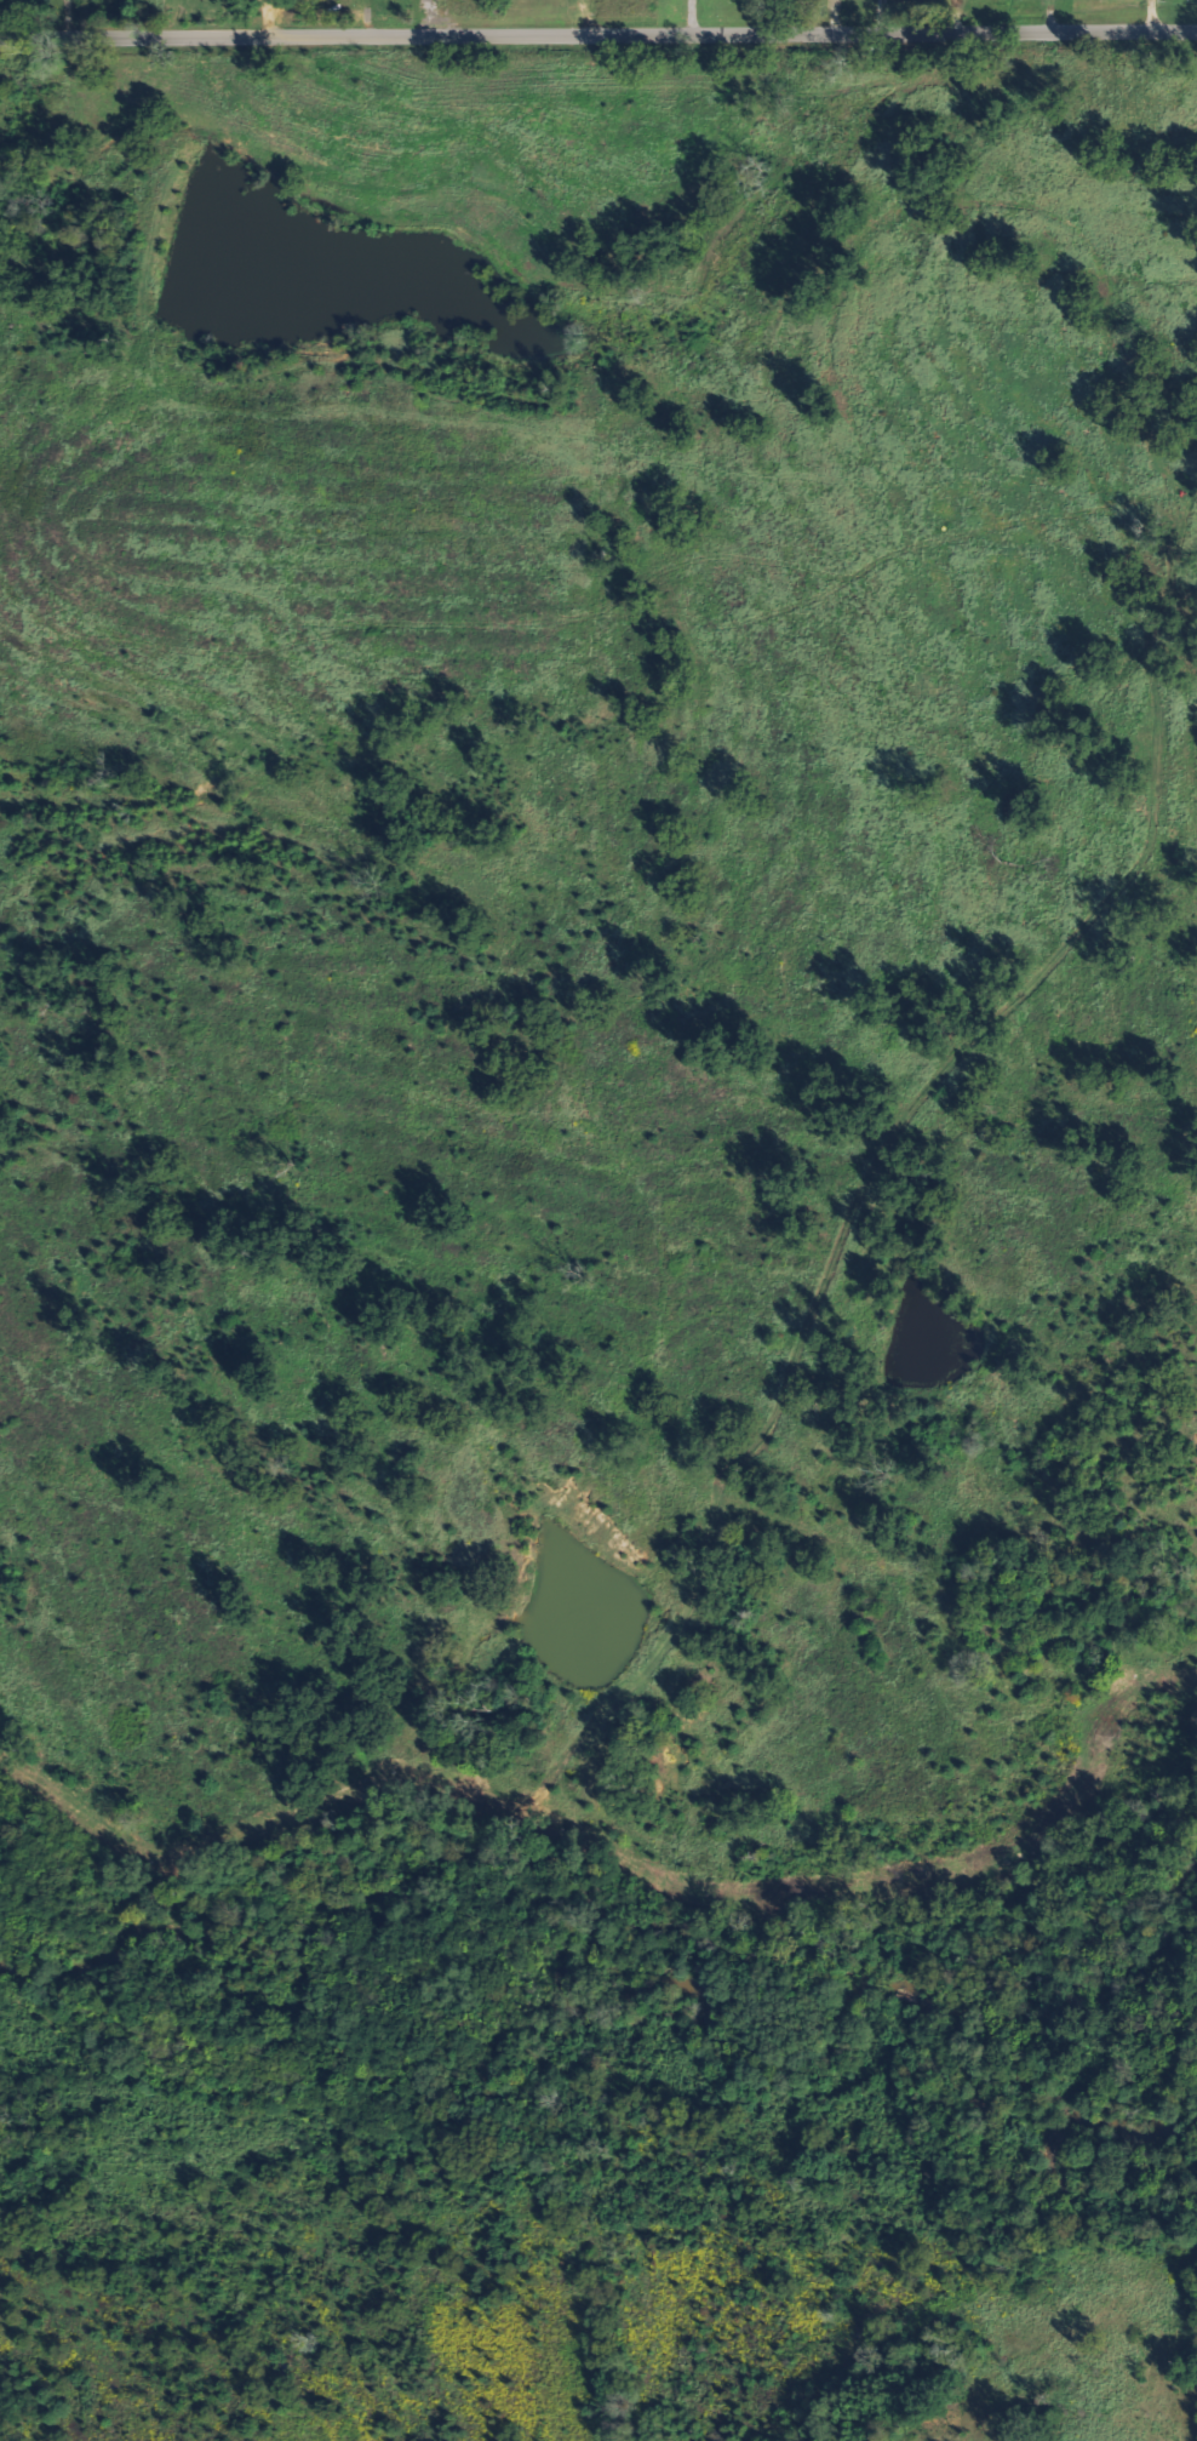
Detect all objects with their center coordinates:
road: (597, 33)

